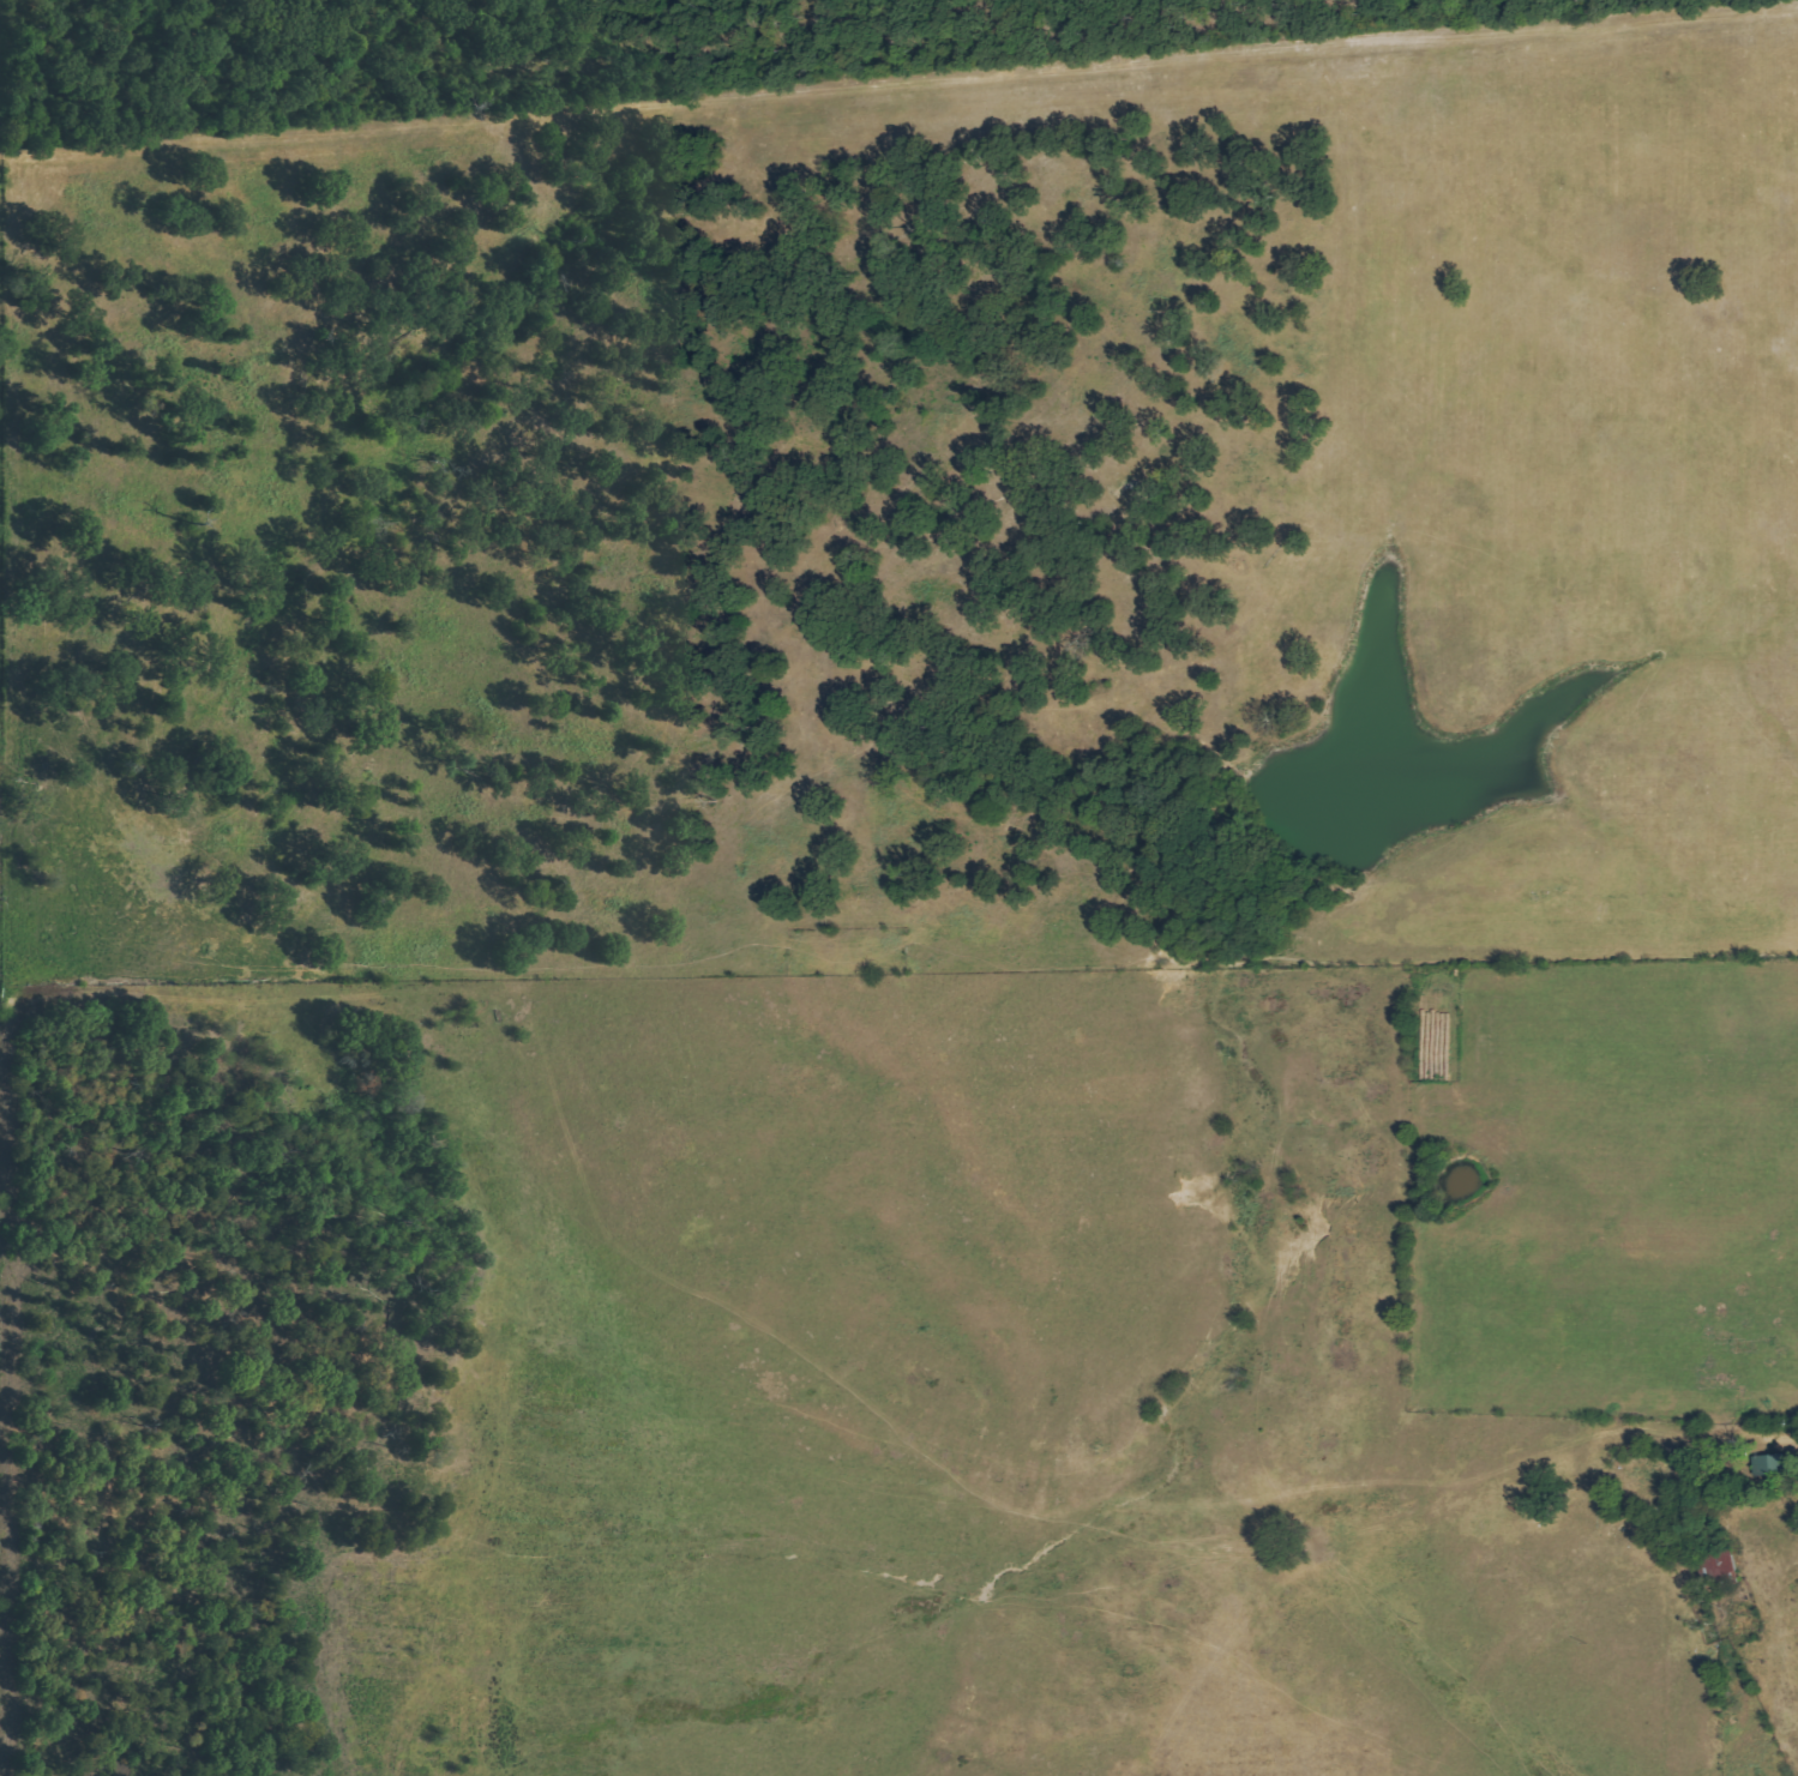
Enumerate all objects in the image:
building: (1770, 1464)

